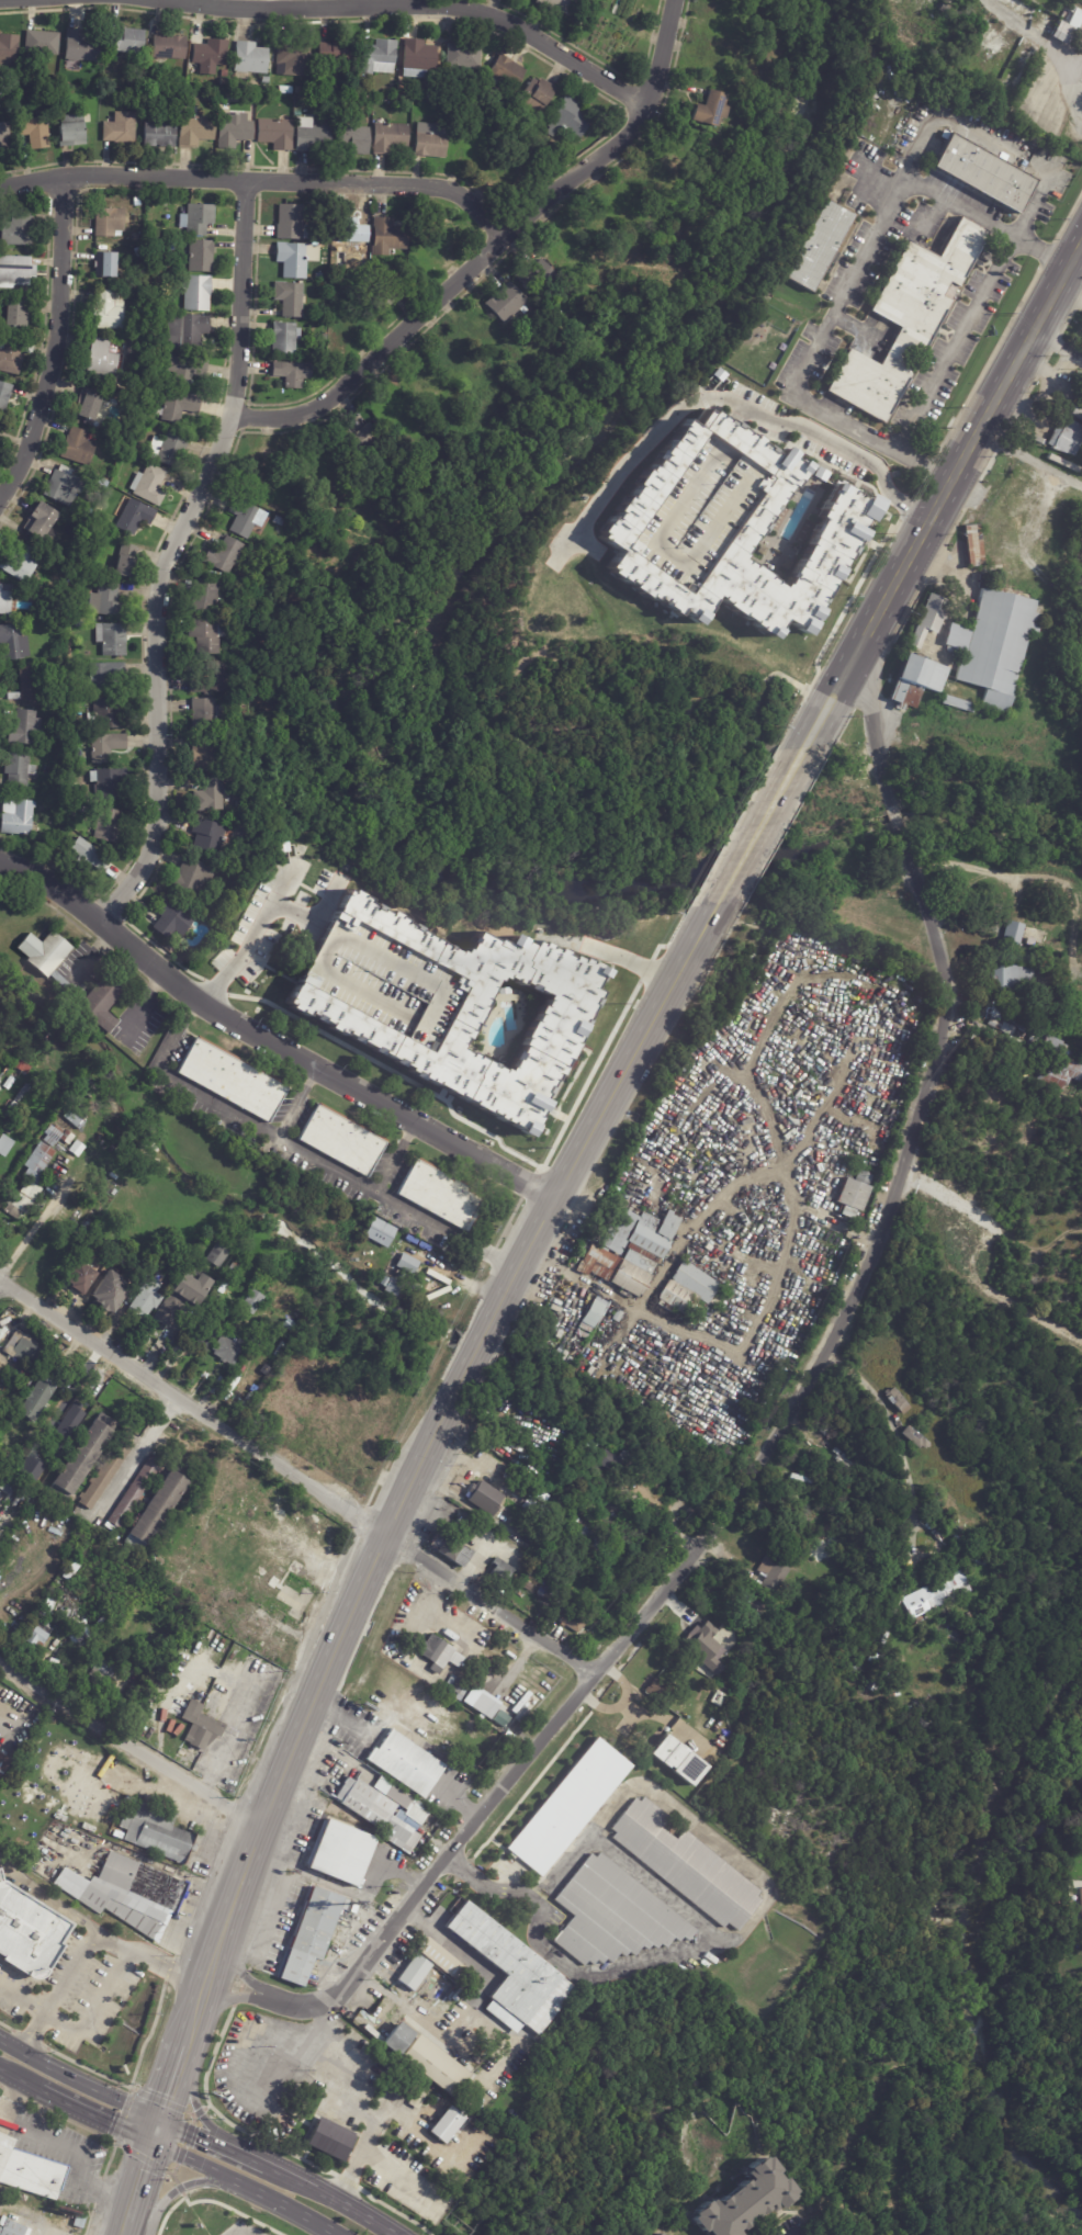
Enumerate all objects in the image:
building: (557, 5)
road: (410, 7)
building: (948, 11)
park: (847, 15)
building: (1067, 26)
building: (126, 41)
building: (41, 44)
building: (80, 46)
building: (167, 48)
building: (8, 50)
building: (334, 54)
building: (210, 55)
building: (376, 55)
building: (461, 55)
building: (416, 58)
building: (248, 59)
building: (292, 59)
building: (113, 61)
building: (224, 72)
building: (506, 72)
building: (112, 79)
building: (262, 79)
building: (61, 81)
building: (224, 81)
building: (13, 84)
road: (1068, 88)
building: (284, 89)
building: (331, 95)
building: (536, 95)
building: (263, 100)
building: (711, 110)
building: (567, 118)
building: (117, 128)
building: (33, 129)
building: (69, 131)
building: (193, 131)
building: (233, 131)
building: (274, 133)
building: (309, 136)
building: (387, 136)
building: (159, 137)
building: (3, 138)
building: (353, 139)
building: (430, 139)
road: (991, 142)
building: (557, 148)
building: (983, 172)
building: (503, 174)
road: (260, 182)
building: (196, 218)
building: (108, 222)
building: (289, 223)
building: (19, 230)
building: (352, 230)
building: (172, 234)
building: (386, 236)
building: (818, 246)
road: (489, 248)
building: (198, 256)
building: (294, 258)
building: (105, 266)
building: (180, 268)
building: (16, 272)
building: (533, 278)
road: (846, 282)
building: (193, 292)
building: (382, 295)
road: (1069, 297)
building: (288, 298)
building: (505, 304)
building: (108, 309)
building: (15, 314)
building: (905, 319)
building: (185, 332)
building: (283, 338)
road: (57, 343)
road: (951, 345)
road: (1056, 348)
building: (14, 357)
building: (101, 359)
building: (185, 370)
building: (291, 374)
building: (4, 396)
building: (86, 405)
building: (178, 407)
road: (735, 408)
building: (1077, 413)
building: (1066, 439)
building: (0, 440)
building: (354, 441)
building: (77, 447)
building: (167, 450)
road: (1030, 458)
road: (959, 467)
building: (102, 483)
building: (148, 485)
building: (61, 486)
building: (131, 515)
building: (244, 519)
building: (277, 521)
building: (41, 523)
building: (724, 528)
building: (972, 545)
road: (172, 555)
building: (223, 555)
building: (18, 562)
building: (122, 562)
building: (202, 597)
building: (105, 601)
building: (4, 602)
building: (52, 606)
building: (928, 620)
building: (79, 624)
building: (205, 635)
building: (110, 640)
building: (11, 643)
building: (991, 645)
park: (487, 669)
building: (55, 675)
building: (102, 676)
building: (211, 680)
building: (913, 680)
building: (25, 685)
building: (57, 700)
building: (954, 704)
building: (103, 714)
building: (203, 715)
road: (820, 722)
building: (22, 729)
road: (875, 732)
building: (104, 748)
building: (203, 755)
building: (15, 771)
building: (105, 784)
building: (208, 795)
building: (74, 798)
building: (241, 805)
building: (41, 808)
building: (80, 809)
road: (894, 815)
building: (15, 819)
building: (106, 827)
road: (760, 828)
building: (64, 832)
building: (206, 836)
building: (83, 856)
building: (191, 879)
road: (264, 914)
building: (169, 919)
building: (1013, 932)
building: (1032, 937)
road: (608, 952)
road: (94, 955)
building: (1007, 974)
building: (109, 983)
building: (448, 1005)
road: (147, 1006)
building: (1007, 1024)
road: (270, 1041)
building: (1046, 1045)
building: (1080, 1059)
building: (23, 1066)
building: (1059, 1074)
building: (229, 1079)
road: (298, 1102)
road: (606, 1105)
building: (74, 1120)
building: (10, 1130)
building: (60, 1135)
building: (339, 1139)
building: (8, 1145)
building: (65, 1148)
road: (305, 1150)
road: (397, 1156)
building: (40, 1162)
building: (292, 1163)
road: (899, 1169)
building: (58, 1173)
building: (0, 1186)
road: (731, 1187)
building: (438, 1194)
building: (854, 1194)
building: (22, 1201)
building: (79, 1226)
road: (842, 1226)
railway: (554, 1228)
building: (380, 1232)
building: (628, 1250)
building: (216, 1256)
building: (405, 1264)
building: (233, 1266)
building: (78, 1277)
building: (390, 1286)
building: (684, 1289)
building: (108, 1293)
building: (144, 1296)
building: (180, 1300)
building: (250, 1302)
road: (640, 1311)
building: (591, 1313)
building: (201, 1329)
building: (19, 1346)
building: (226, 1350)
road: (476, 1351)
building: (16, 1367)
building: (35, 1400)
road: (193, 1407)
building: (68, 1422)
road: (899, 1437)
building: (818, 1441)
road: (135, 1456)
building: (80, 1458)
building: (611, 1461)
building: (581, 1464)
building: (104, 1475)
building: (133, 1492)
road: (746, 1495)
building: (485, 1498)
building: (279, 1500)
building: (247, 1506)
building: (155, 1510)
building: (562, 1510)
building: (298, 1514)
building: (906, 1522)
building: (461, 1525)
building: (234, 1528)
building: (322, 1529)
building: (594, 1542)
building: (449, 1550)
road: (320, 1554)
building: (940, 1560)
building: (71, 1568)
building: (499, 1571)
building: (770, 1573)
building: (269, 1580)
building: (527, 1585)
building: (293, 1591)
building: (539, 1594)
building: (553, 1594)
building: (934, 1595)
road: (491, 1604)
building: (46, 1608)
building: (557, 1611)
building: (745, 1615)
building: (538, 1616)
building: (572, 1621)
building: (250, 1633)
building: (37, 1635)
park: (1000, 1639)
building: (705, 1646)
building: (275, 1647)
building: (436, 1656)
building: (137, 1657)
building: (874, 1661)
building: (98, 1674)
road: (620, 1681)
building: (728, 1684)
building: (711, 1686)
building: (868, 1686)
building: (455, 1687)
building: (655, 1689)
building: (898, 1695)
building: (481, 1702)
road: (602, 1705)
building: (521, 1709)
road: (308, 1711)
building: (514, 1716)
building: (498, 1718)
road: (664, 1722)
building: (200, 1725)
road: (129, 1743)
building: (677, 1760)
building: (408, 1761)
building: (3, 1763)
road: (493, 1798)
building: (567, 1807)
building: (383, 1813)
building: (156, 1830)
building: (340, 1853)
building: (686, 1865)
road: (328, 1882)
road: (494, 1886)
building: (129, 1894)
building: (1078, 1897)
road: (47, 1899)
road: (272, 1915)
building: (612, 1915)
building: (27, 1934)
building: (312, 1934)
road: (91, 1940)
road: (447, 1942)
building: (509, 1971)
building: (412, 1972)
road: (24, 1998)
road: (95, 2007)
road: (414, 2011)
road: (320, 2019)
building: (391, 2027)
road: (246, 2046)
building: (435, 2066)
road: (171, 2077)
road: (22, 2079)
road: (77, 2080)
building: (396, 2088)
road: (13, 2098)
road: (189, 2099)
building: (374, 2113)
building: (409, 2113)
traffic signals: (157, 2115)
building: (427, 2115)
road: (98, 2117)
road: (363, 2117)
building: (383, 2123)
building: (446, 2124)
road: (154, 2129)
building: (313, 2130)
road: (191, 2131)
traffic signals: (150, 2142)
road: (76, 2151)
road: (245, 2155)
road: (191, 2161)
building: (30, 2171)
road: (290, 2175)
road: (135, 2188)
road: (169, 2189)
building: (744, 2201)
road: (283, 2206)
road: (358, 2210)
building: (16, 2230)
building: (658, 2234)

